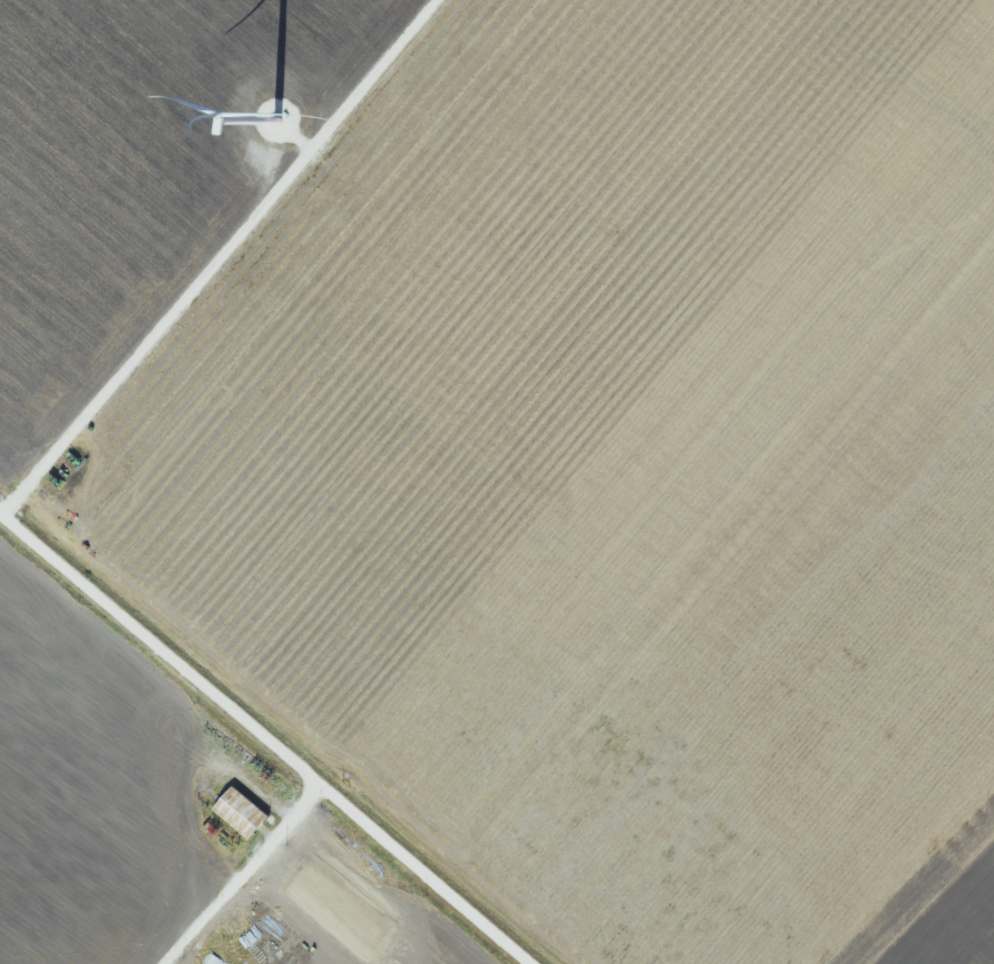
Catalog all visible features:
wind turbine: (288, 114)
road: (718, 585)
road: (263, 768)
building: (239, 813)
road: (224, 881)

